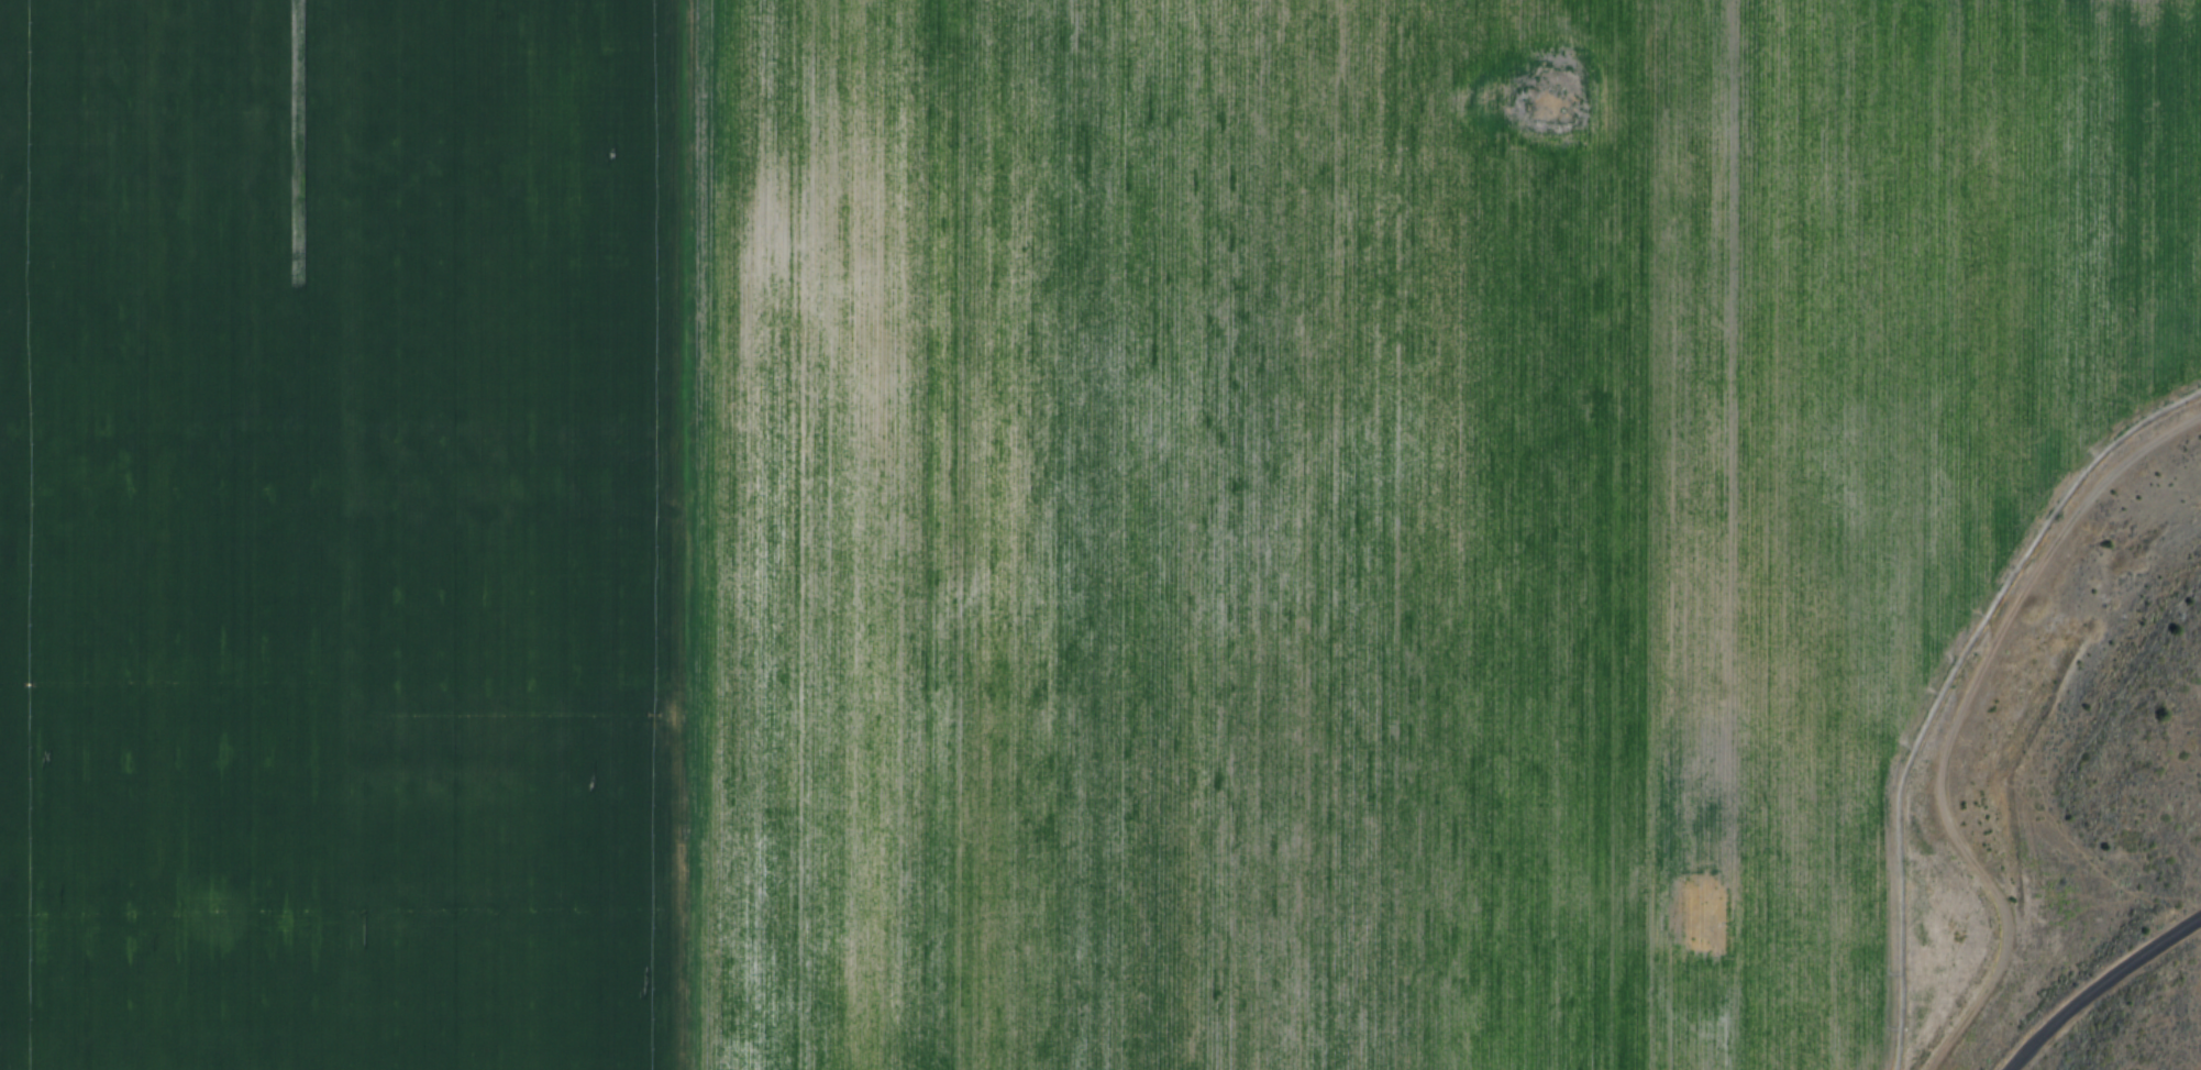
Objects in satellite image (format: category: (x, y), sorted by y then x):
crop: (1378, 508)
crop: (345, 534)
road: (2102, 989)

